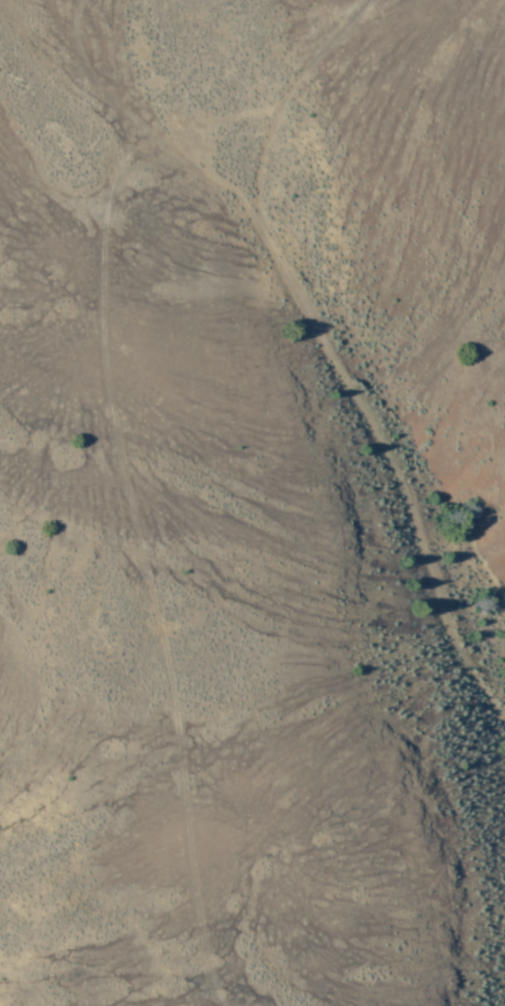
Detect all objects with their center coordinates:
road: (300, 359)

